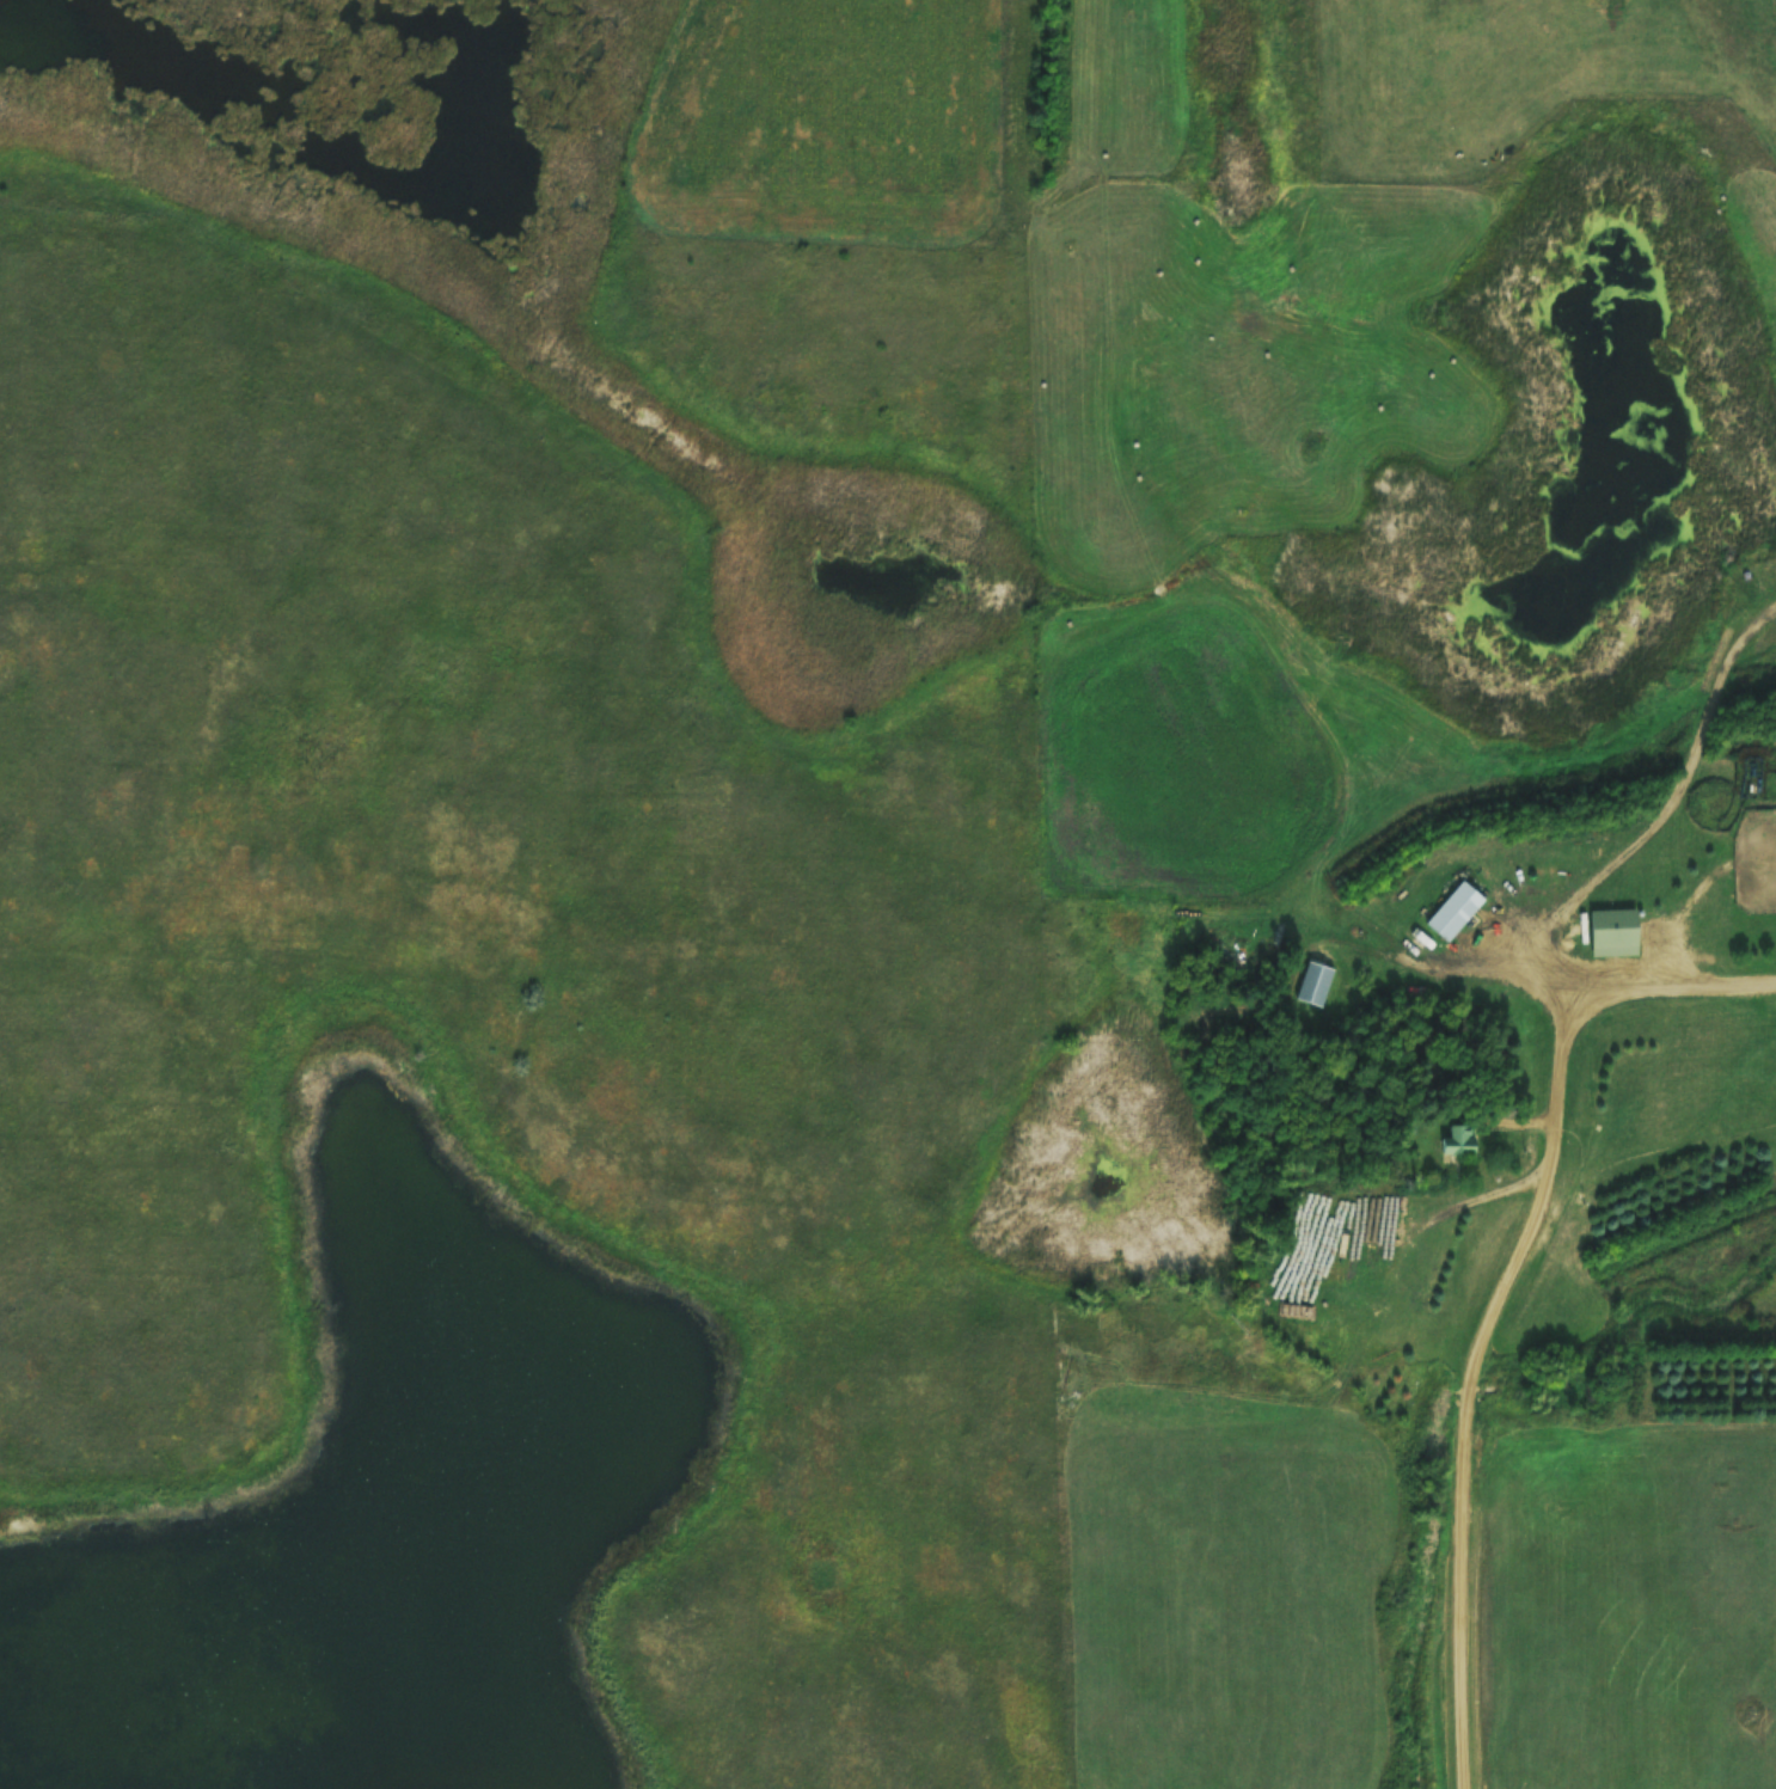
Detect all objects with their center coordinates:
river: (1232, 74)
building: (1462, 902)
building: (1617, 924)
building: (1321, 975)
building: (1462, 1139)
road: (1508, 1289)
river: (67, 1680)

